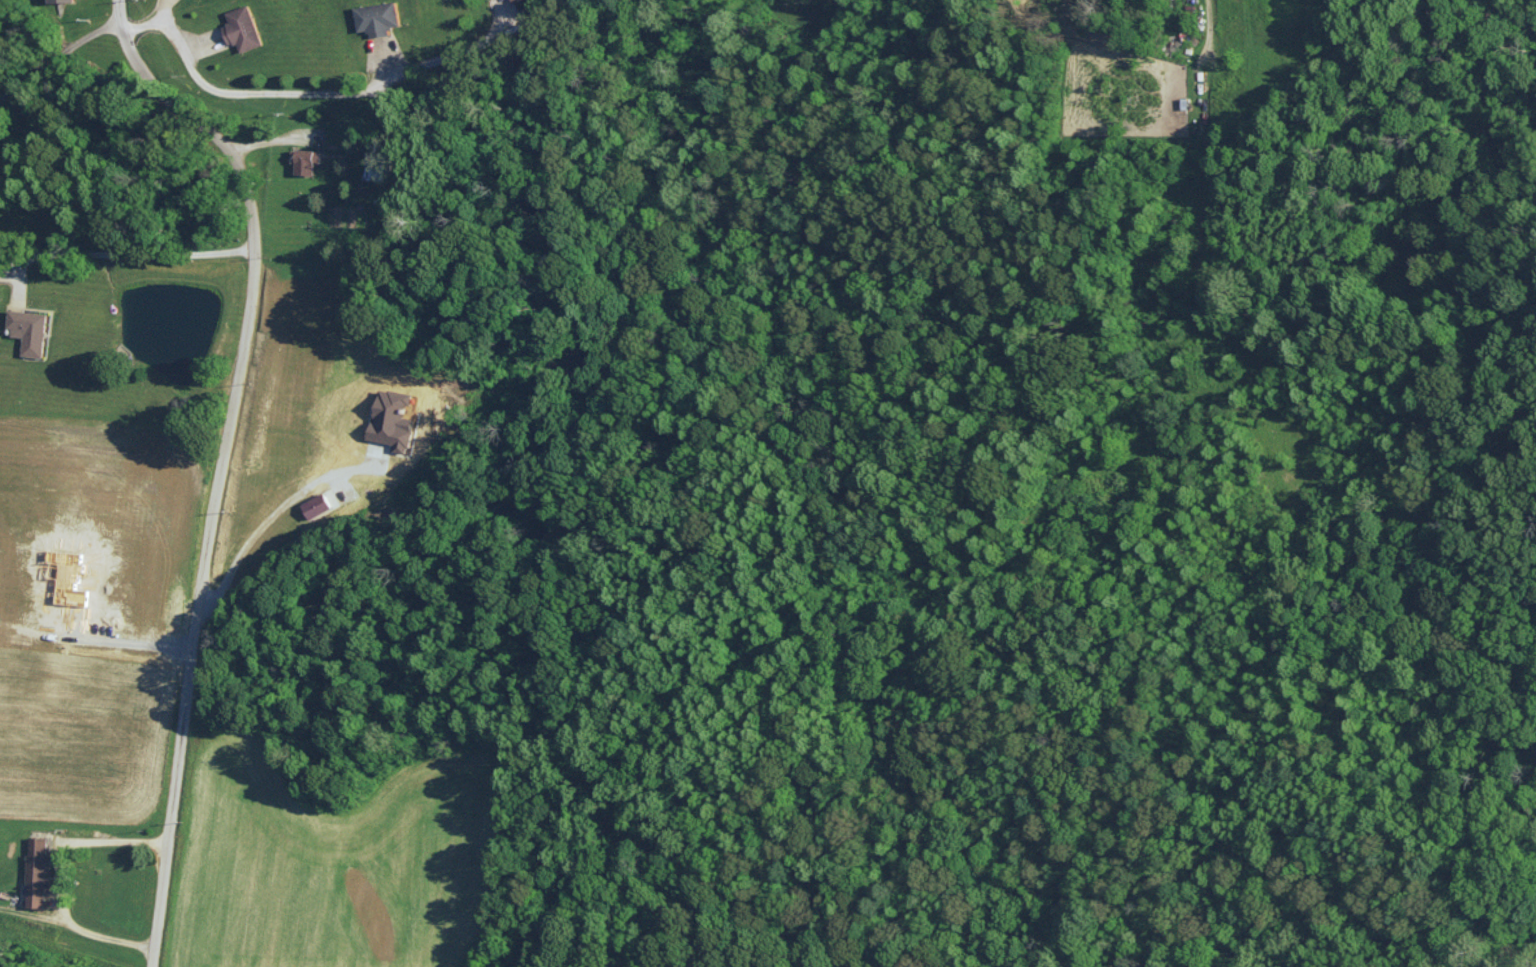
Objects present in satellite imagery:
building: (64, 0)
building: (517, 0)
building: (380, 17)
building: (245, 27)
road: (54, 65)
road: (312, 89)
building: (307, 160)
road: (1218, 163)
road: (123, 246)
building: (31, 329)
building: (396, 418)
road: (216, 458)
building: (320, 504)
road: (269, 515)
building: (41, 870)
road: (53, 881)

